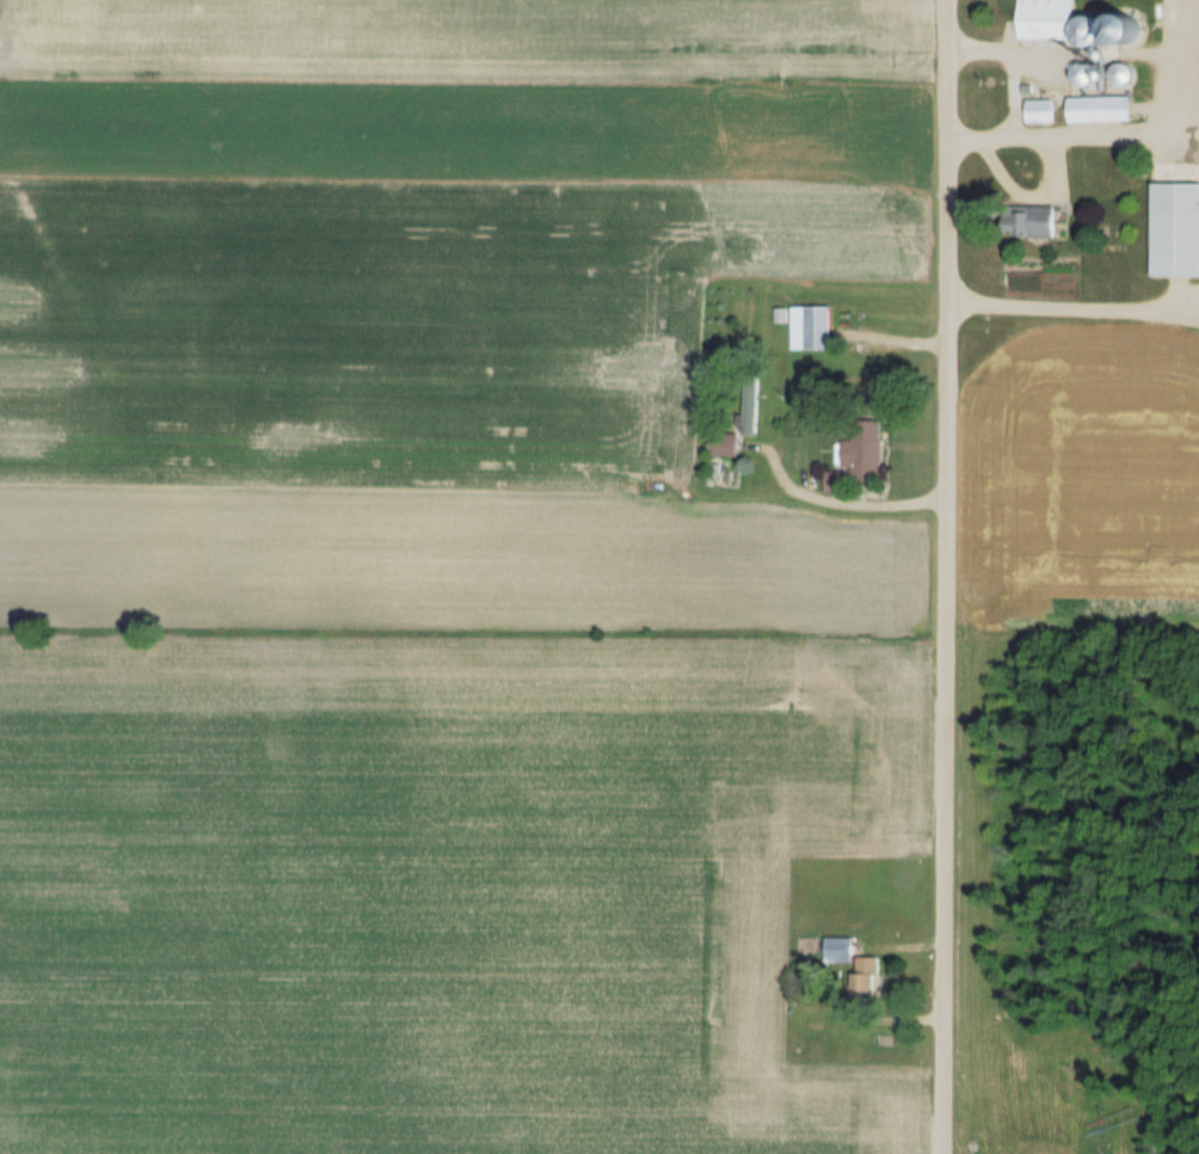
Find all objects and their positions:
building: (1046, 18)
building: (1129, 24)
building: (1089, 29)
road: (1012, 66)
building: (1084, 72)
building: (1124, 73)
road: (1180, 74)
building: (1100, 106)
building: (1040, 109)
road: (1064, 135)
building: (1040, 220)
building: (1176, 227)
road: (1074, 309)
building: (810, 326)
building: (748, 403)
building: (724, 443)
building: (861, 459)
road: (832, 501)
road: (942, 576)
building: (838, 949)
building: (866, 978)

